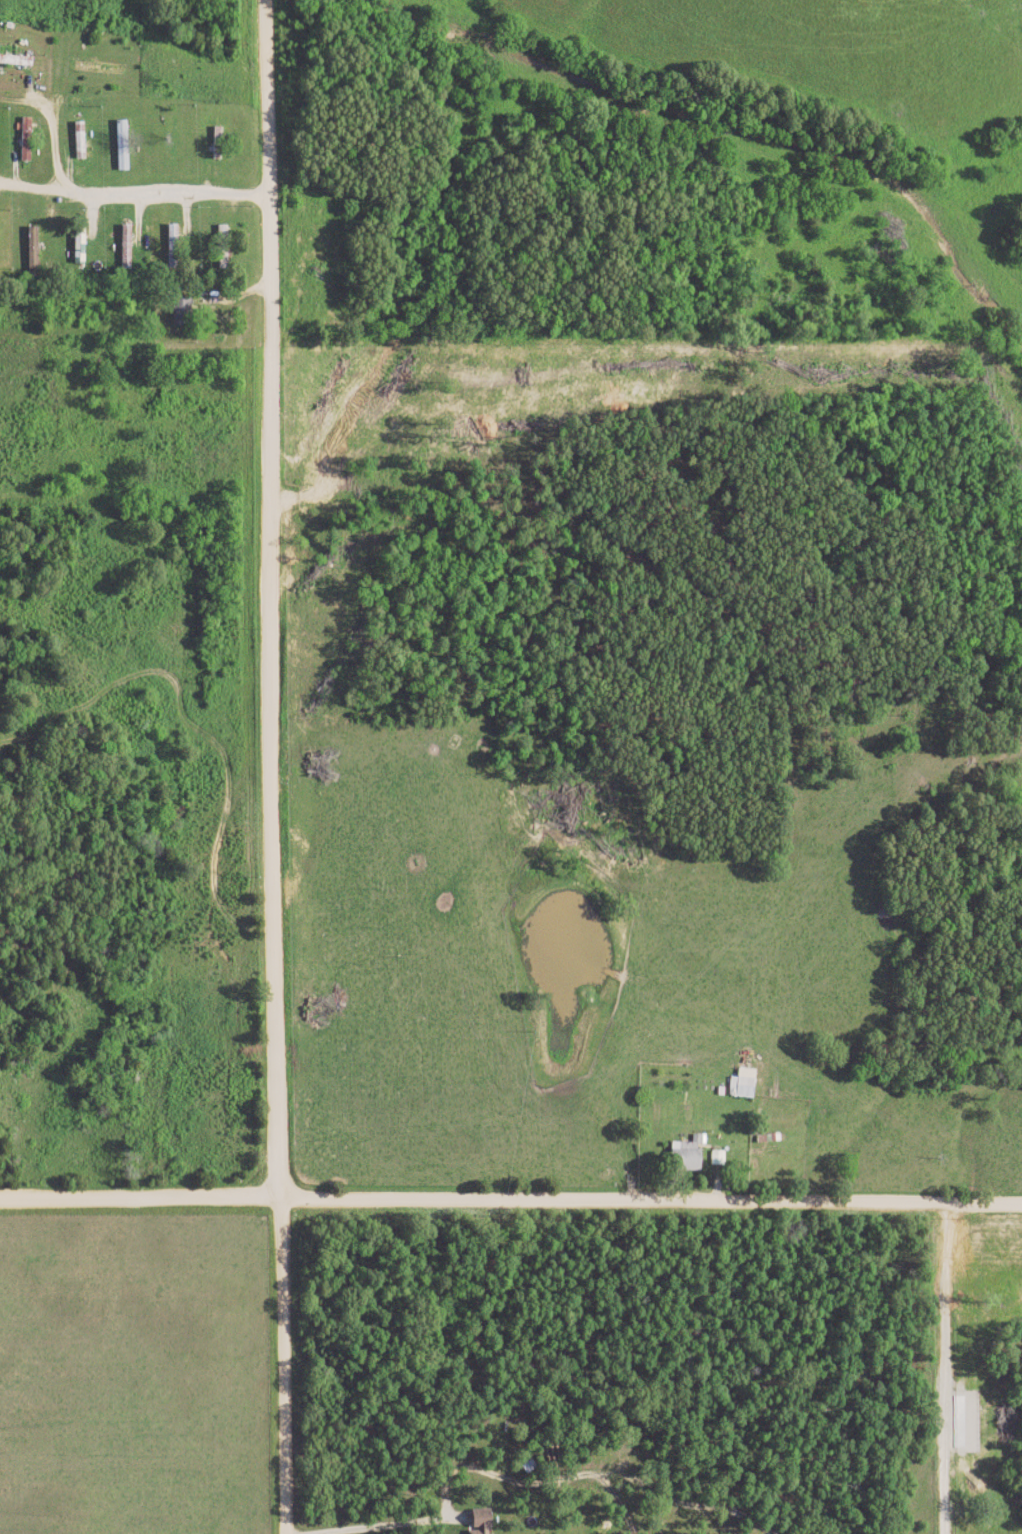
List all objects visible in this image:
road: (24, 102)
building: (79, 141)
road: (56, 154)
road: (136, 195)
road: (272, 596)
road: (510, 1201)
road: (284, 1365)
building: (481, 1522)

